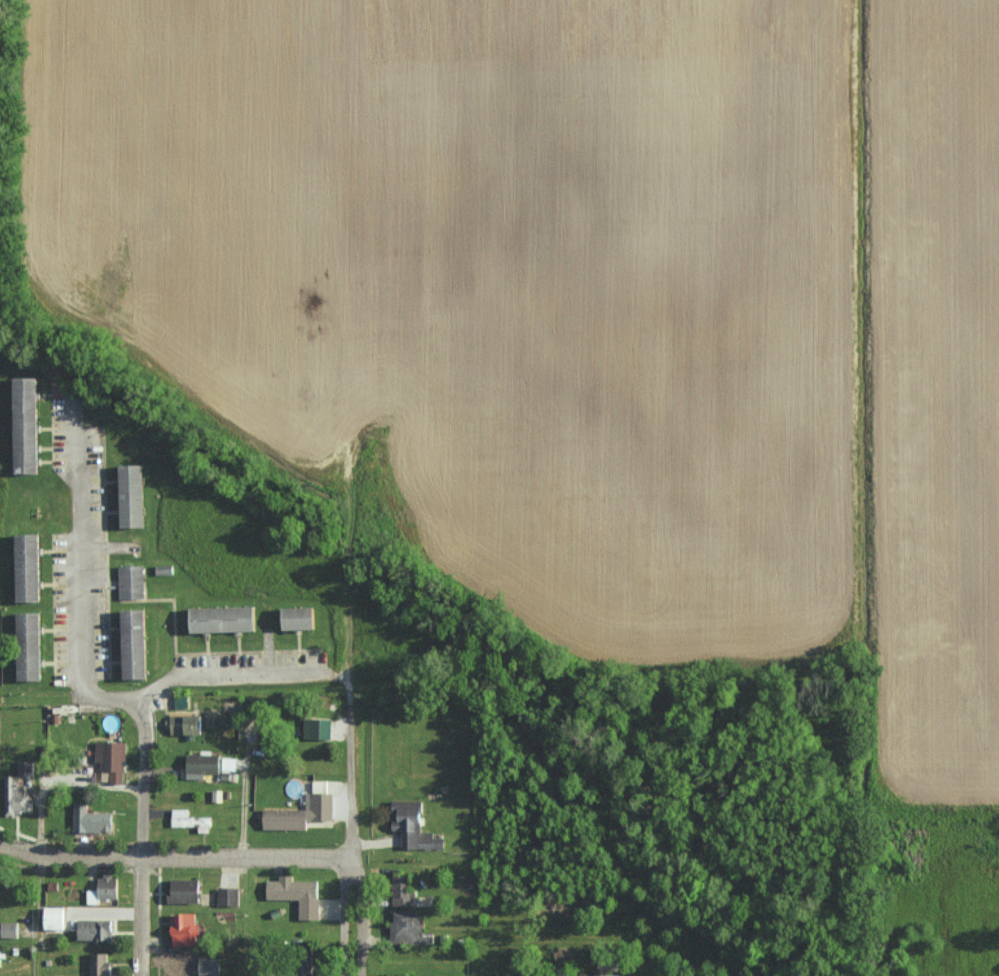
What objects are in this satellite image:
building: (30, 426)
parking lot: (62, 427)
building: (134, 496)
parking lot: (97, 551)
building: (30, 568)
building: (164, 569)
building: (133, 582)
parking lot: (64, 611)
building: (303, 619)
building: (228, 620)
building: (137, 645)
building: (31, 646)
parking lot: (252, 660)
road: (78, 666)
building: (181, 702)
building: (186, 723)
building: (319, 727)
building: (112, 758)
building: (202, 765)
building: (25, 767)
road: (346, 784)
building: (15, 796)
building: (302, 812)
building: (92, 819)
building: (191, 820)
building: (414, 825)
road: (139, 841)
road: (170, 856)
building: (105, 888)
building: (185, 890)
building: (401, 890)
building: (297, 894)
building: (228, 896)
road: (360, 908)
road: (342, 916)
building: (57, 917)
building: (184, 928)
building: (409, 928)
building: (9, 929)
building: (95, 929)
building: (0, 957)
building: (180, 963)
building: (101, 964)
building: (210, 965)
building: (601, 975)

